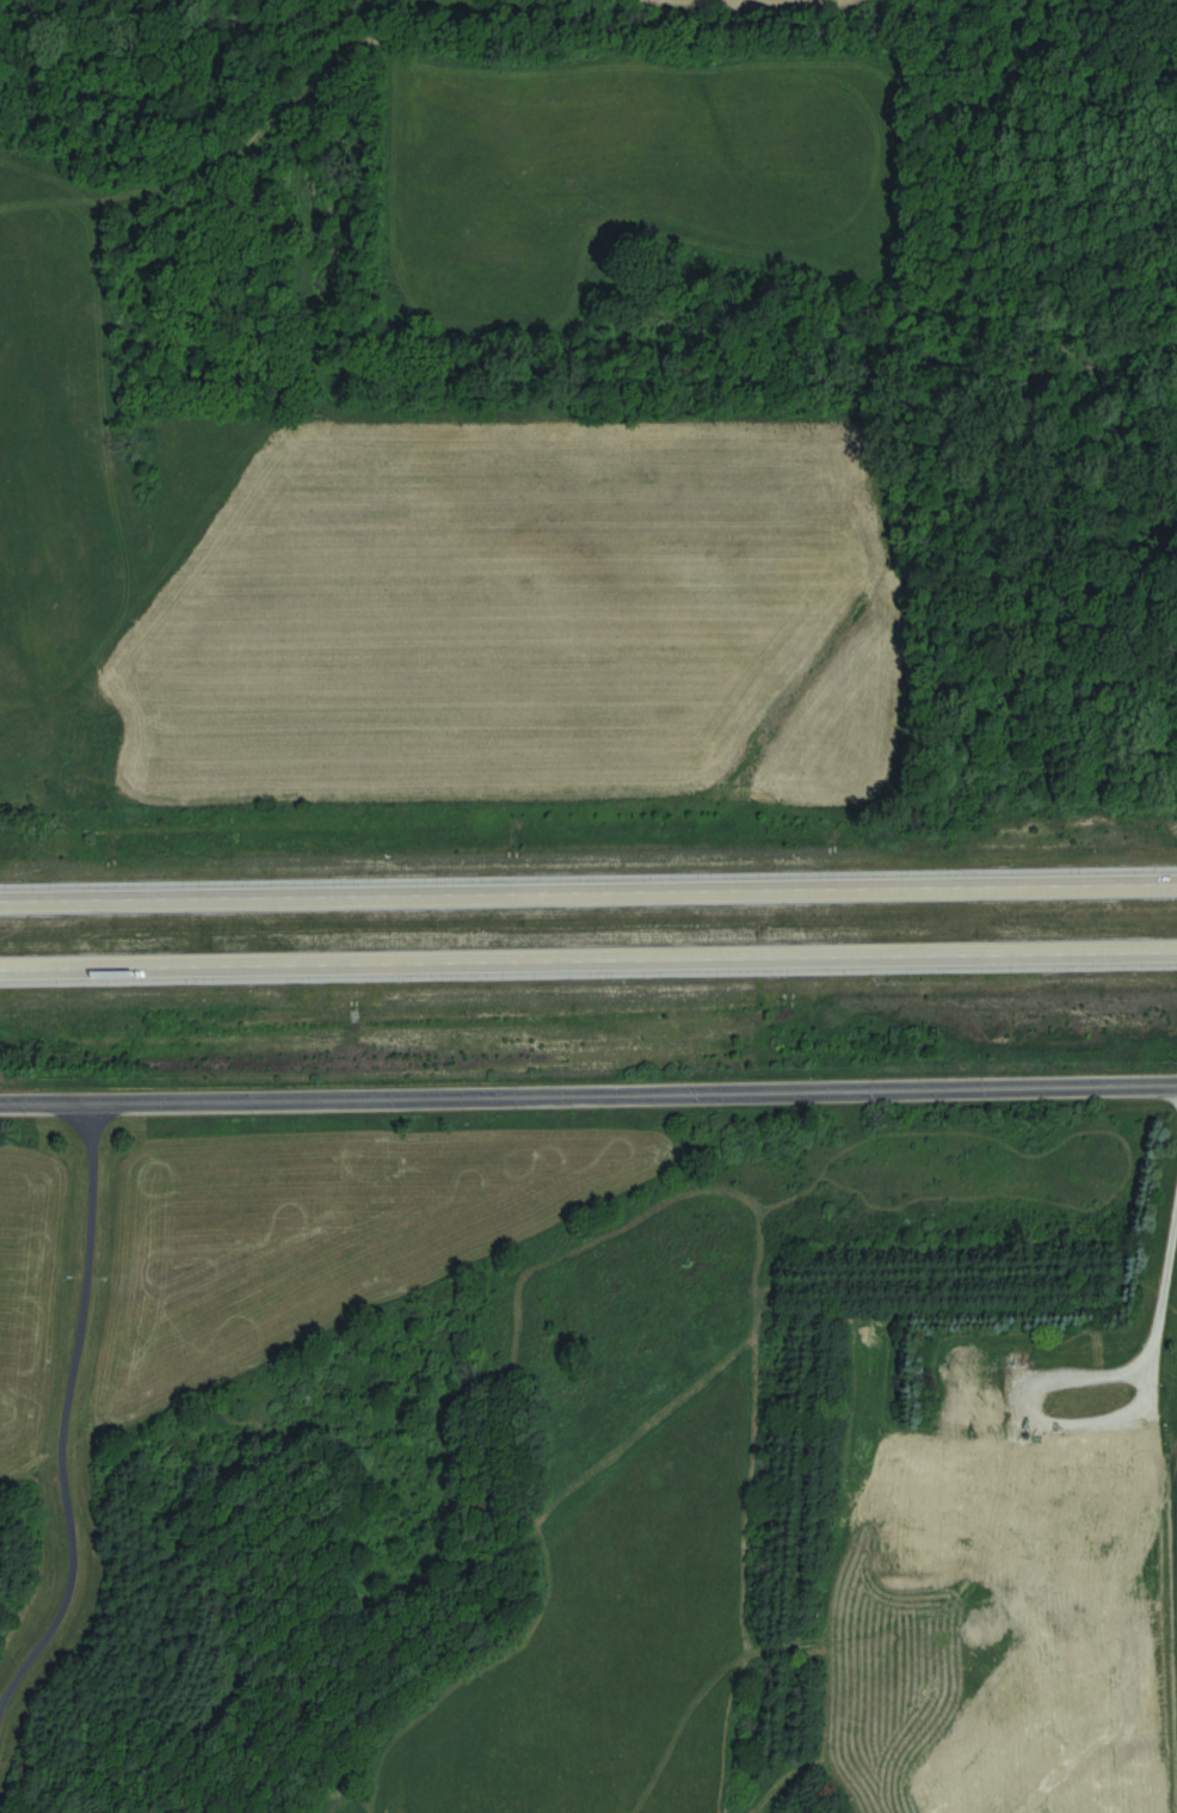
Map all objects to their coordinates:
road: (588, 889)
road: (588, 964)
road: (588, 1096)
building: (965, 1369)
road: (1013, 1399)
road: (63, 1415)
road: (1147, 1446)
building: (1022, 1469)
building: (966, 1537)

